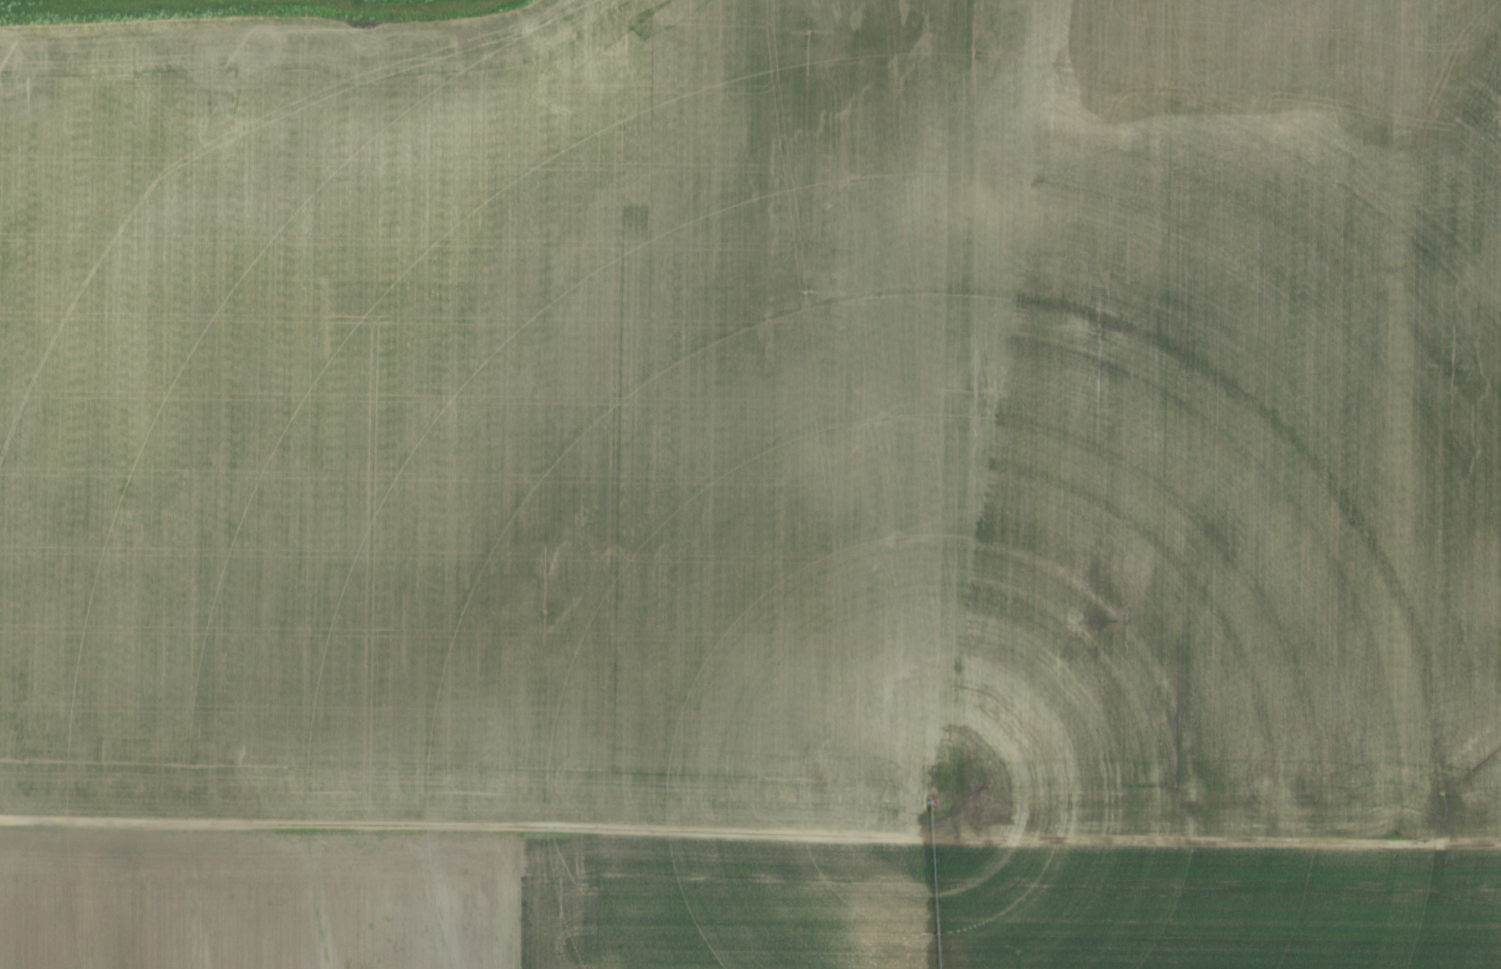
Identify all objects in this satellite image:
road: (1389, 420)
road: (750, 834)

